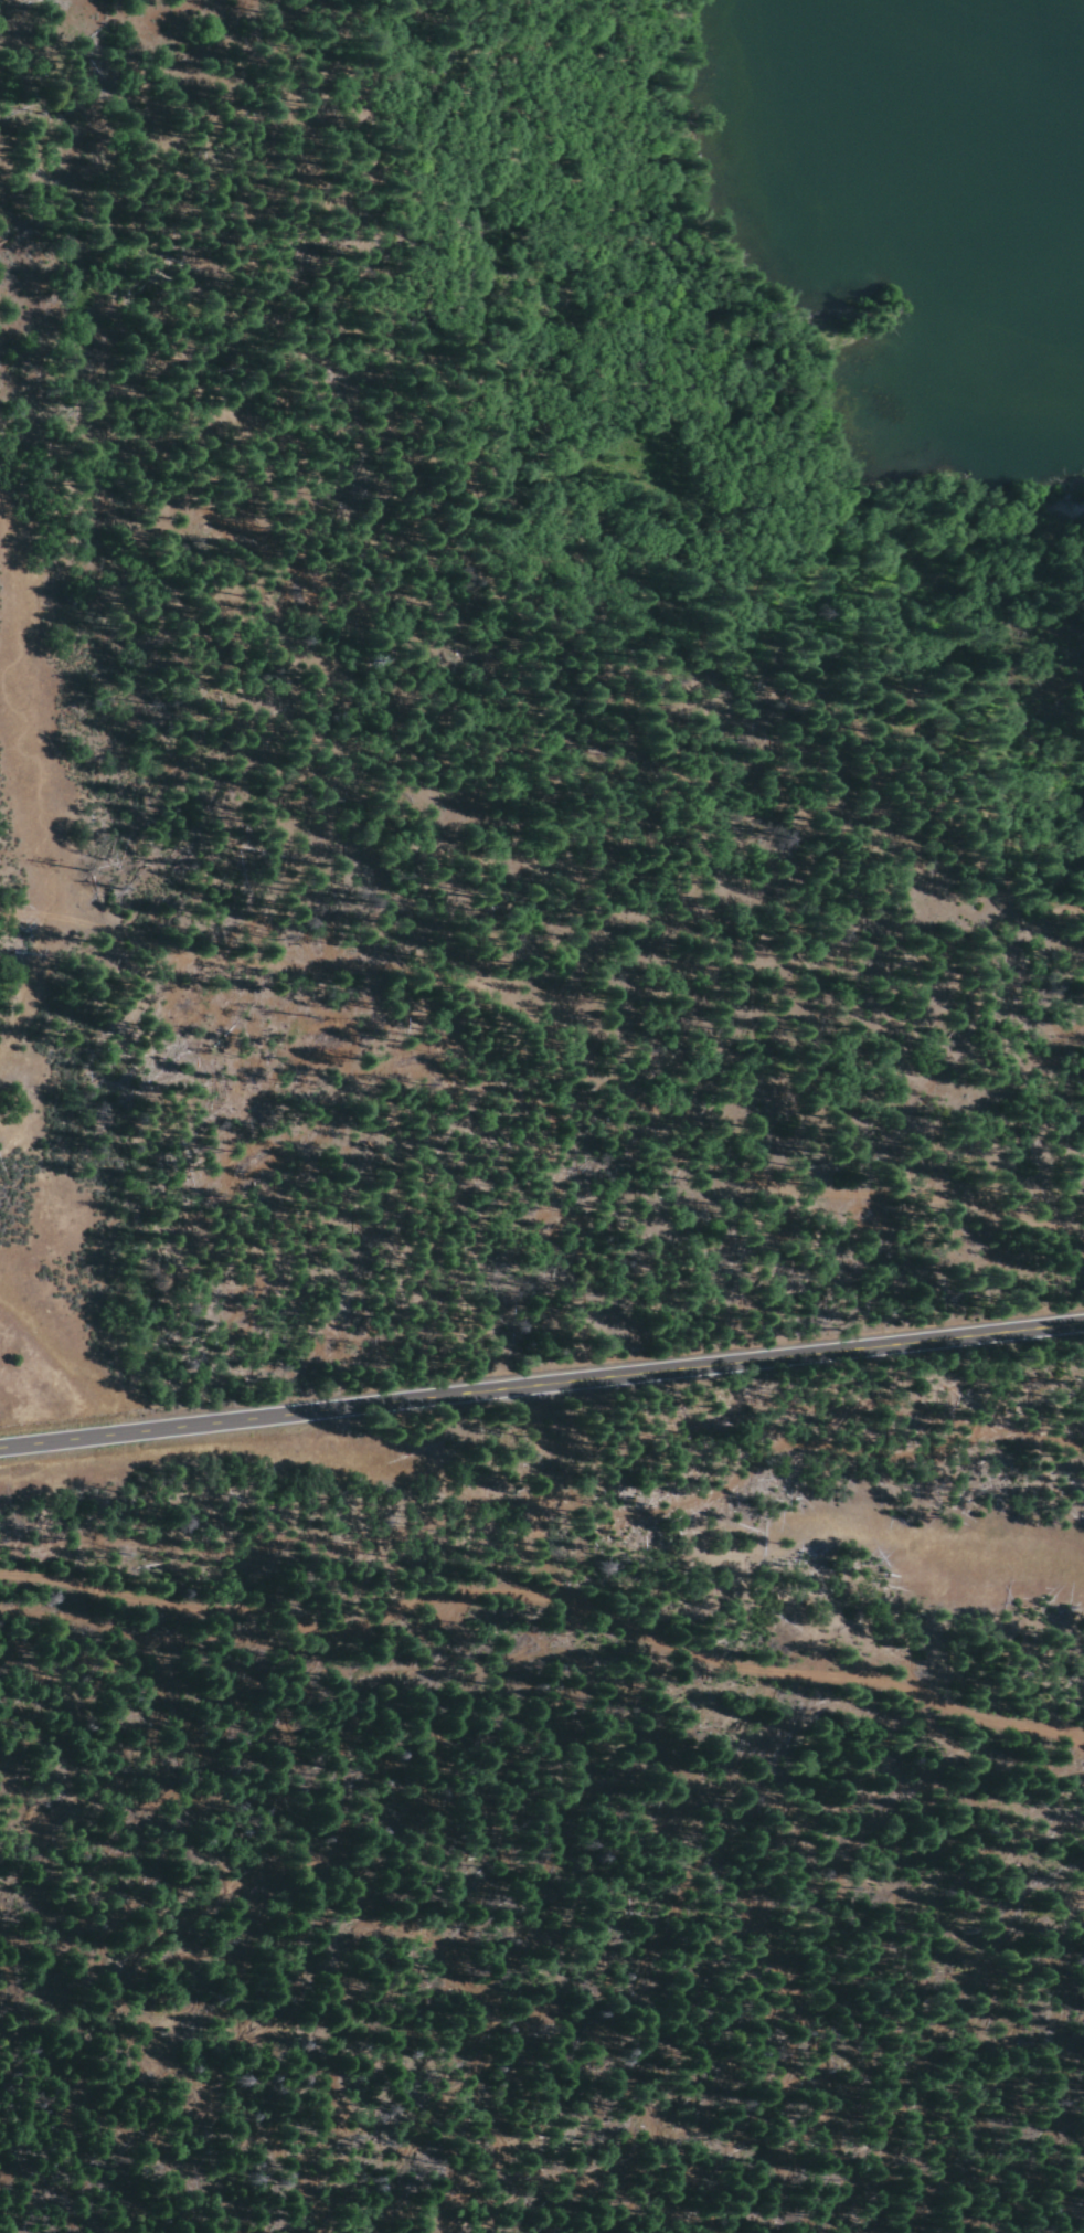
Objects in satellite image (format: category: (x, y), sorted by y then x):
road: (33, 816)
road: (540, 1039)
road: (541, 1382)

